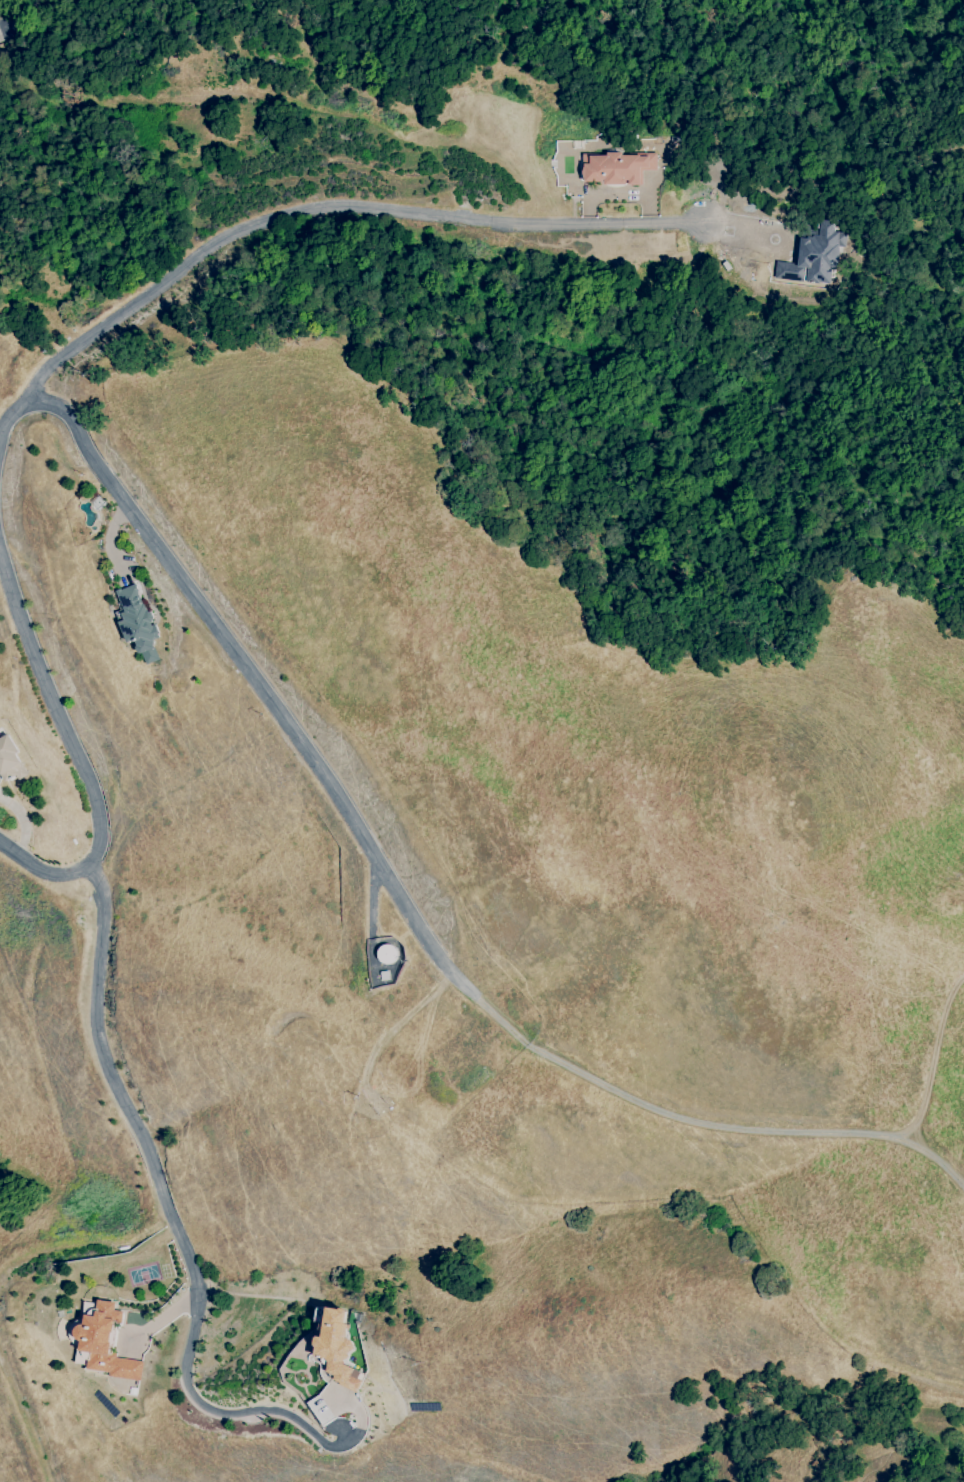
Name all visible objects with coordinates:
road: (20, 18)
building: (617, 168)
road: (331, 210)
building: (813, 258)
building: (136, 622)
road: (78, 753)
building: (11, 759)
road: (23, 821)
road: (397, 890)
road: (373, 912)
building: (388, 954)
storage tank: (388, 954)
road: (929, 1071)
road: (169, 1211)
road: (162, 1318)
building: (101, 1344)

